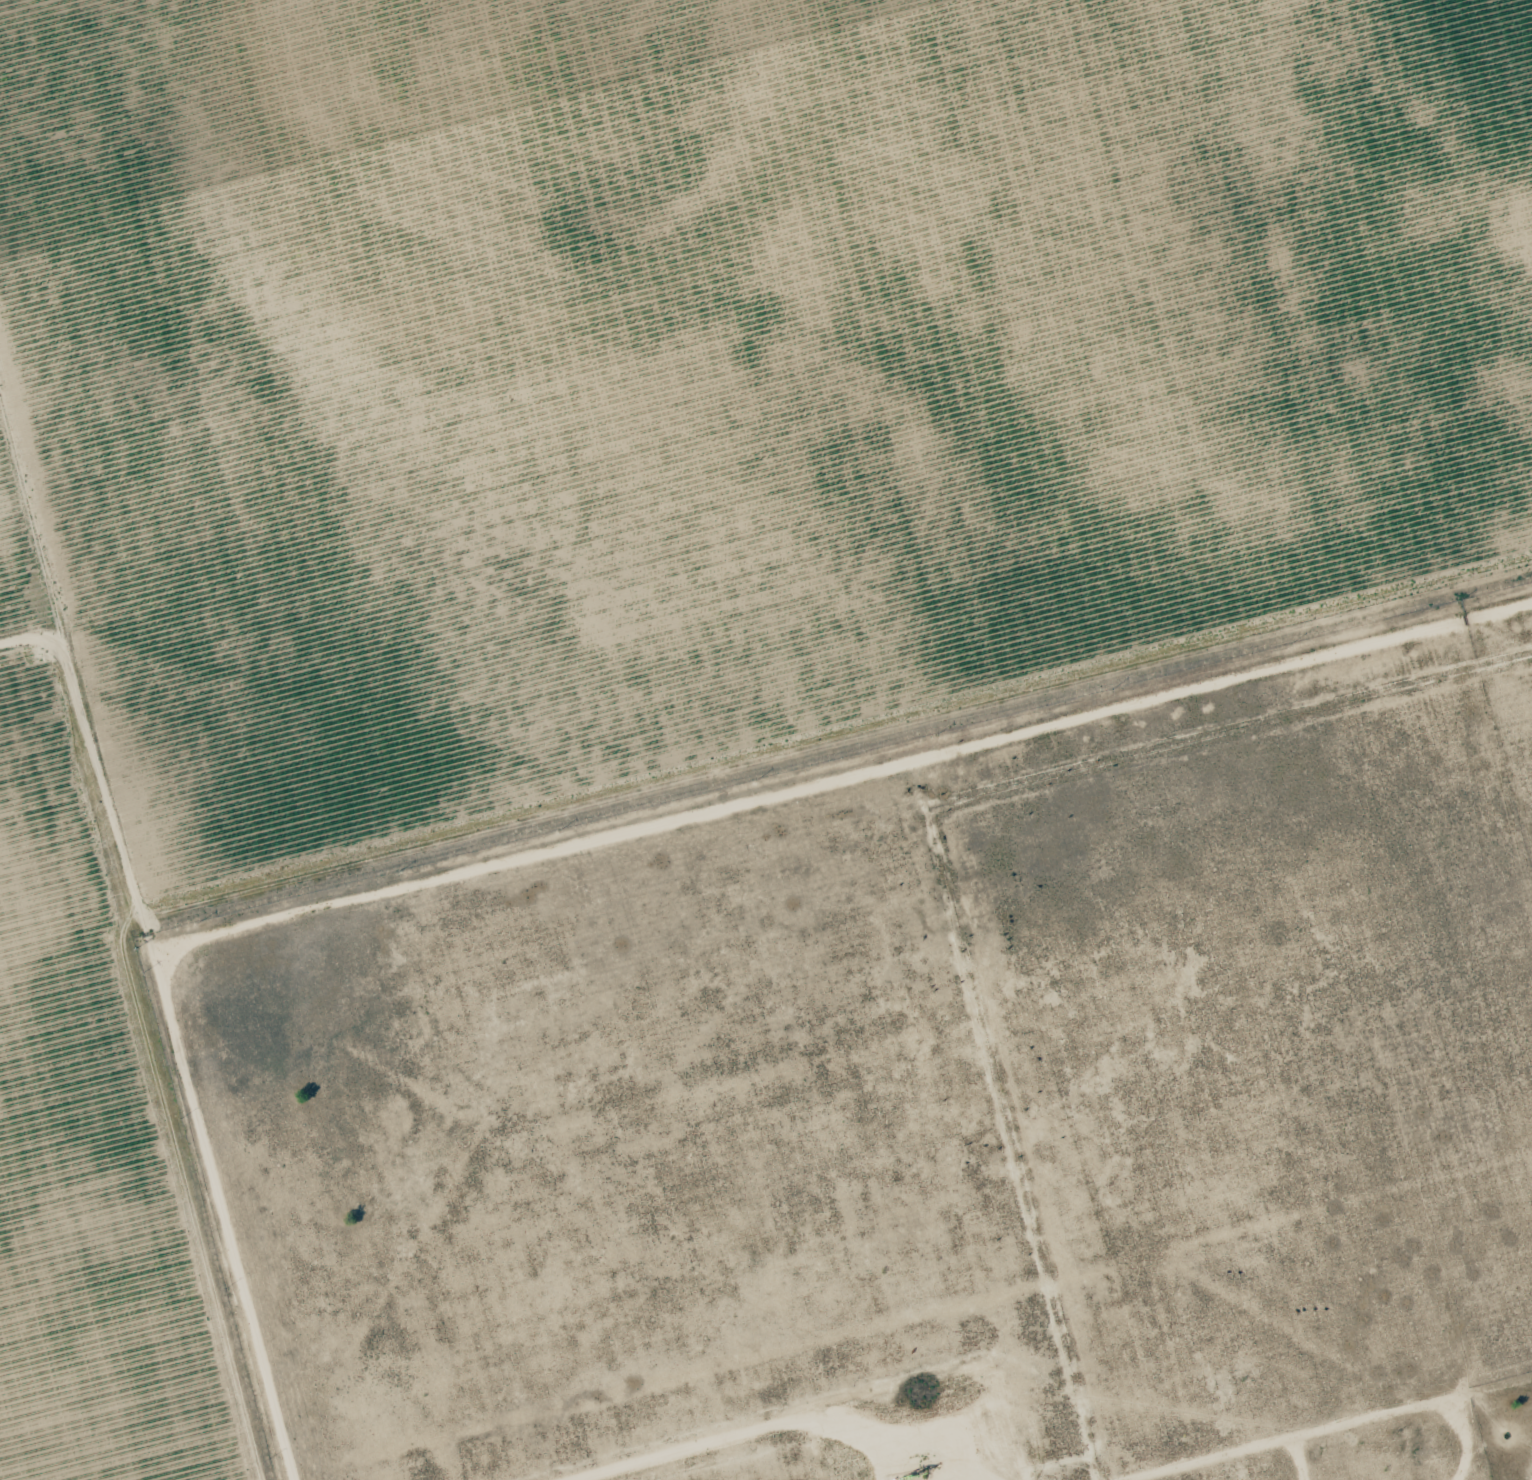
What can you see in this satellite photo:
river: (716, 705)

